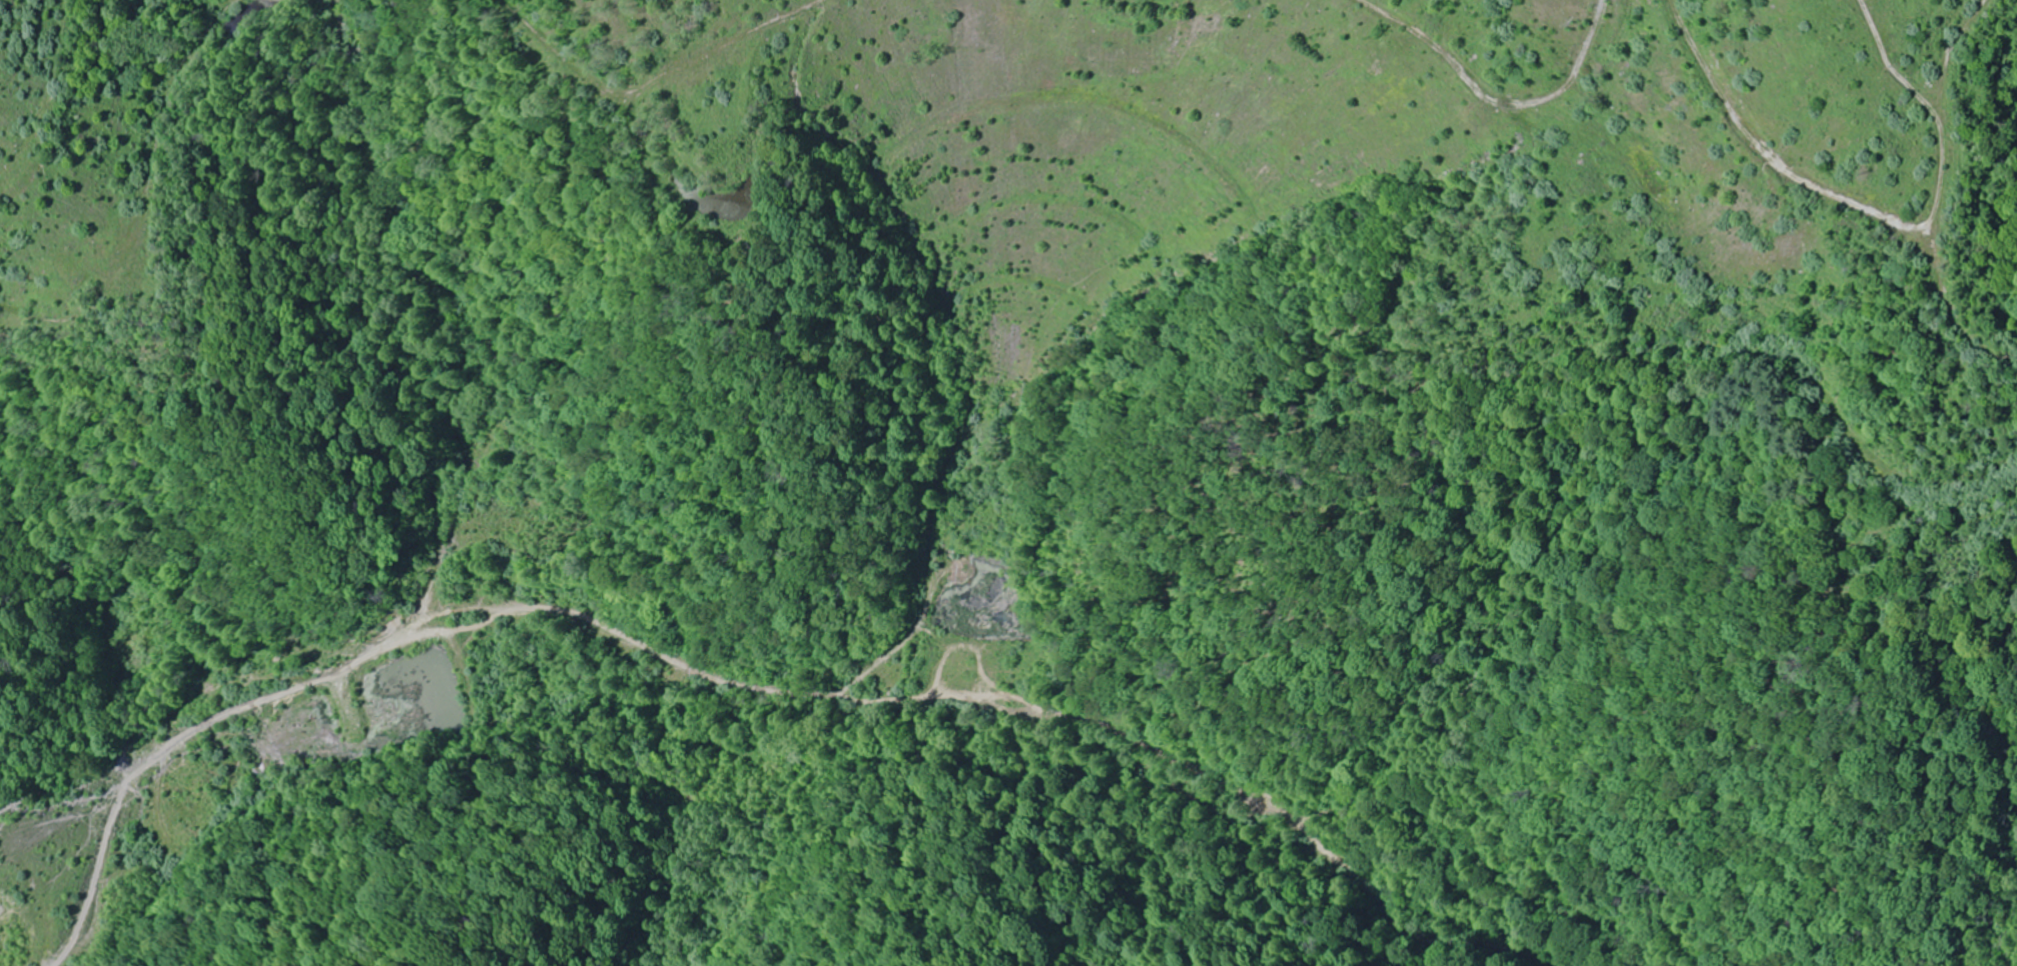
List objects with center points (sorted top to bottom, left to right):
road: (711, 713)

